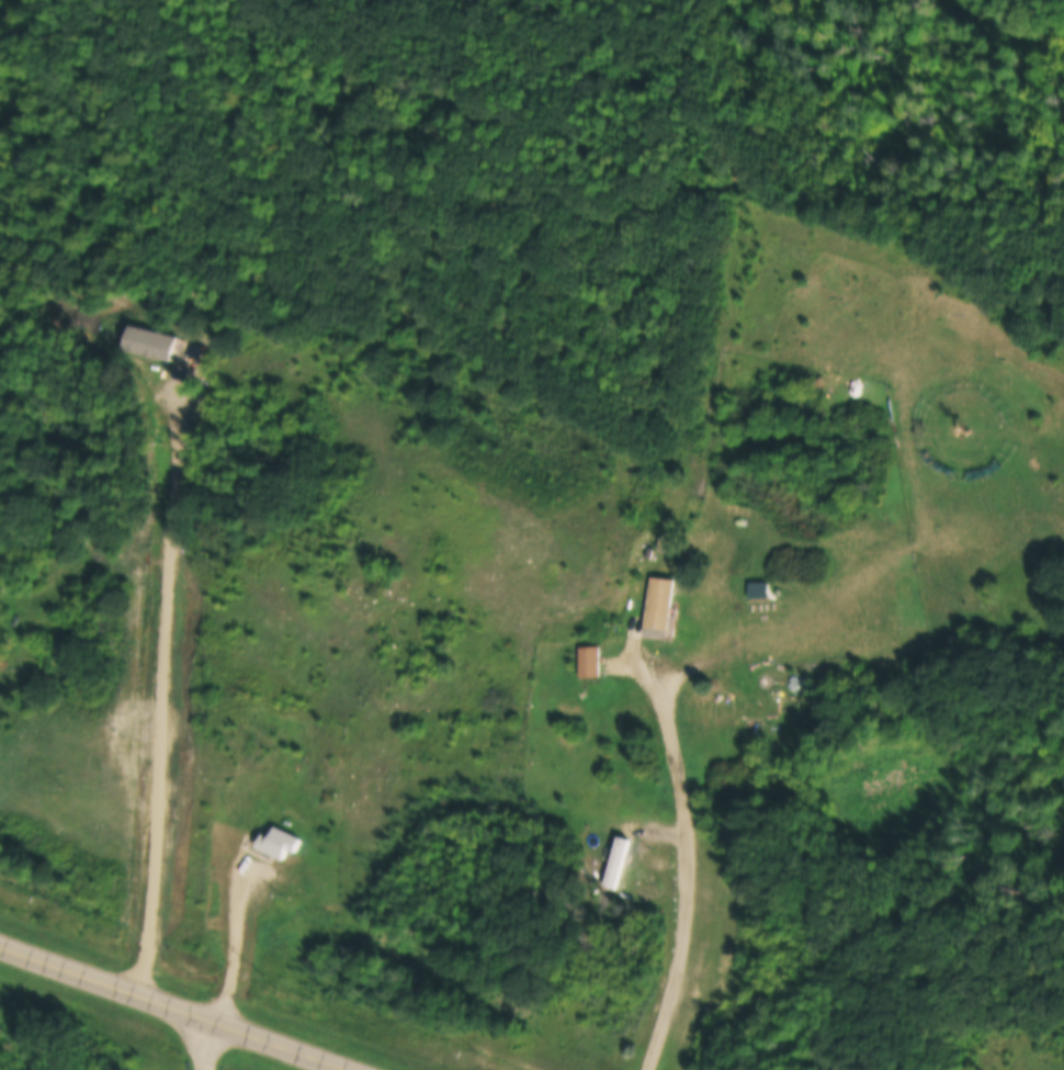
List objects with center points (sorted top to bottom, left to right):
building: (657, 604)
building: (589, 661)
building: (275, 843)
road: (689, 854)
building: (614, 867)
road: (234, 939)
road: (179, 1006)
road: (206, 1043)

